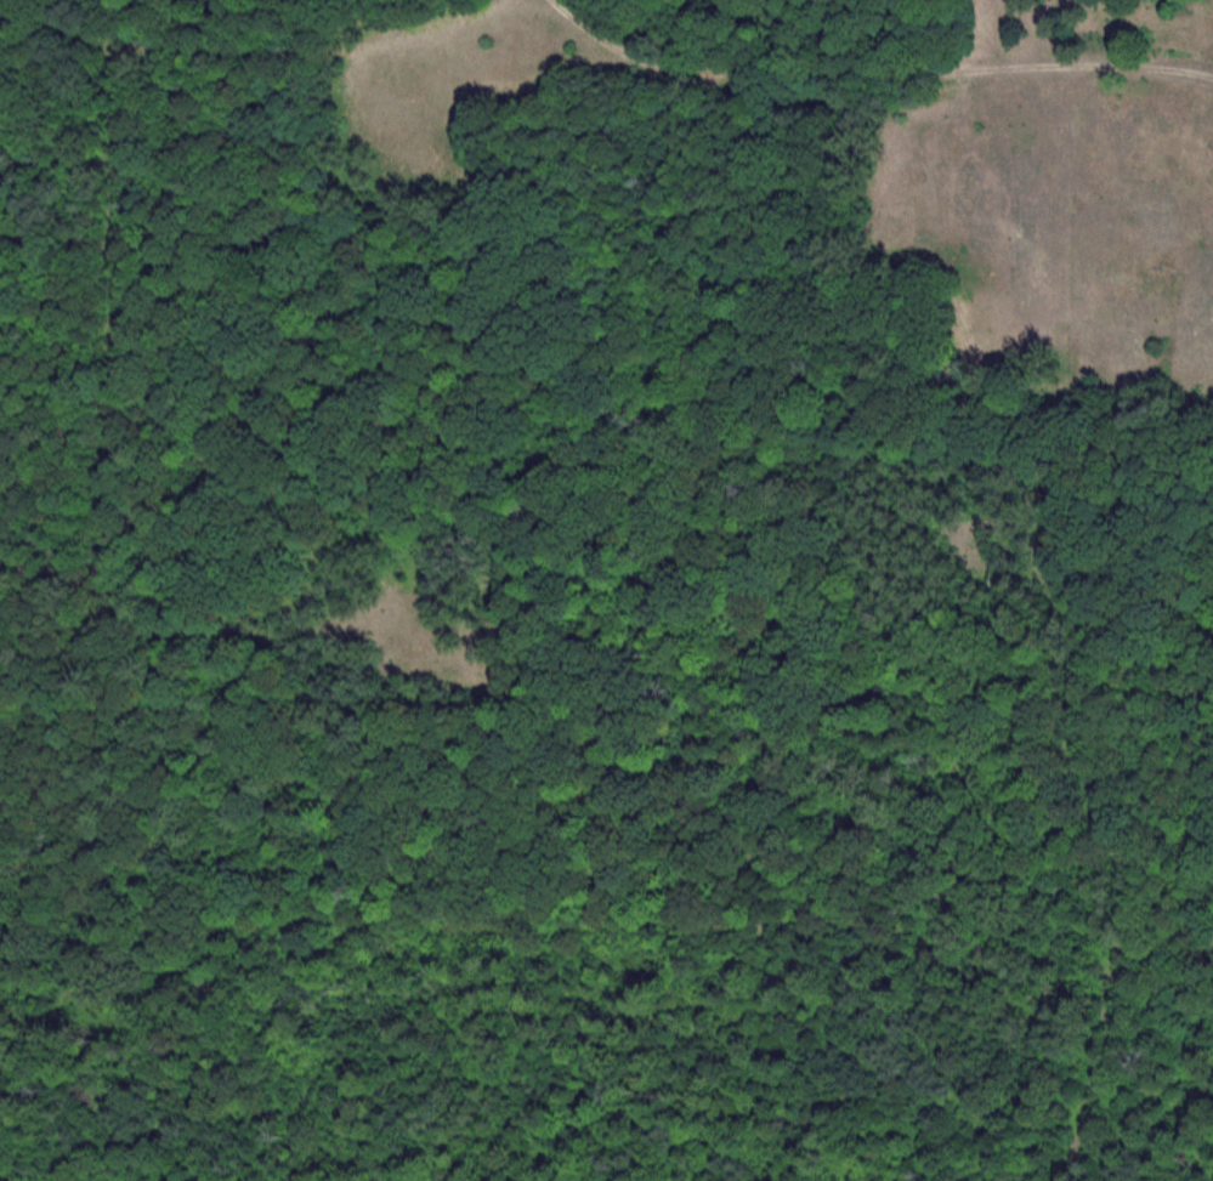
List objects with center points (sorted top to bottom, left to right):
road: (875, 72)

